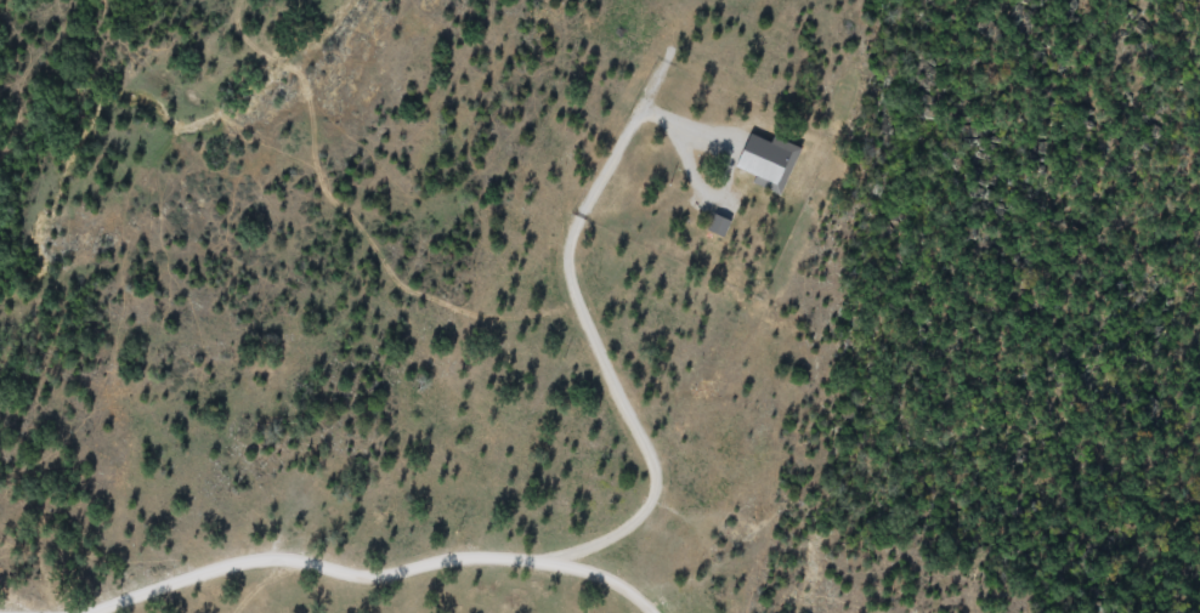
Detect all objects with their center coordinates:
road: (271, 554)

